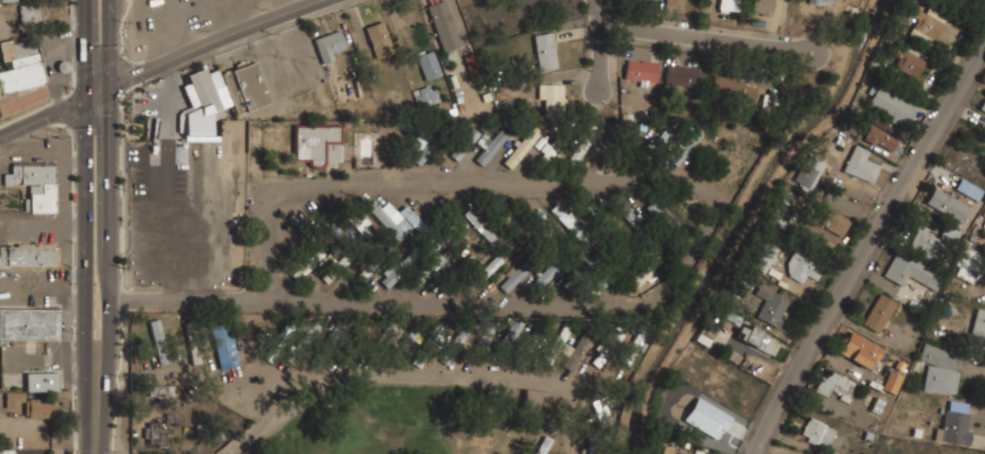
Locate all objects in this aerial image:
building: (7, 0)
building: (642, 0)
building: (822, 3)
building: (674, 4)
building: (728, 5)
building: (766, 7)
building: (852, 11)
building: (31, 13)
building: (444, 25)
building: (926, 30)
building: (379, 39)
road: (711, 40)
road: (219, 43)
road: (109, 44)
building: (329, 45)
road: (86, 48)
road: (601, 48)
building: (545, 51)
building: (907, 61)
building: (429, 64)
building: (641, 72)
building: (21, 75)
building: (681, 77)
traffic signals: (110, 88)
building: (246, 88)
building: (732, 88)
road: (98, 93)
building: (425, 96)
building: (551, 97)
traffic signals: (86, 98)
building: (199, 103)
building: (890, 105)
building: (983, 106)
road: (43, 117)
building: (881, 139)
building: (314, 142)
building: (464, 144)
building: (489, 146)
building: (522, 147)
building: (686, 147)
building: (425, 150)
building: (577, 154)
building: (861, 165)
building: (811, 169)
building: (34, 185)
building: (969, 189)
building: (948, 205)
building: (779, 206)
building: (984, 214)
building: (414, 219)
building: (358, 220)
building: (477, 220)
building: (662, 220)
building: (567, 221)
building: (633, 221)
building: (390, 222)
building: (835, 222)
building: (541, 226)
building: (333, 228)
building: (466, 240)
building: (927, 243)
road: (693, 251)
road: (864, 252)
building: (28, 255)
building: (764, 257)
building: (307, 263)
building: (968, 264)
building: (335, 268)
building: (805, 268)
building: (427, 270)
building: (487, 270)
road: (109, 271)
building: (396, 271)
building: (912, 271)
building: (517, 274)
building: (546, 274)
road: (86, 276)
building: (603, 279)
building: (770, 306)
building: (879, 313)
building: (979, 323)
building: (28, 324)
building: (511, 332)
building: (287, 335)
building: (436, 335)
building: (758, 339)
building: (483, 340)
building: (158, 341)
building: (193, 343)
building: (534, 343)
building: (224, 344)
building: (407, 344)
building: (606, 346)
building: (633, 348)
building: (858, 349)
building: (575, 350)
building: (939, 370)
road: (423, 377)
building: (42, 381)
building: (891, 382)
building: (835, 385)
building: (161, 390)
building: (535, 400)
building: (30, 404)
building: (955, 423)
building: (817, 433)
building: (157, 435)
building: (543, 446)
building: (591, 450)

